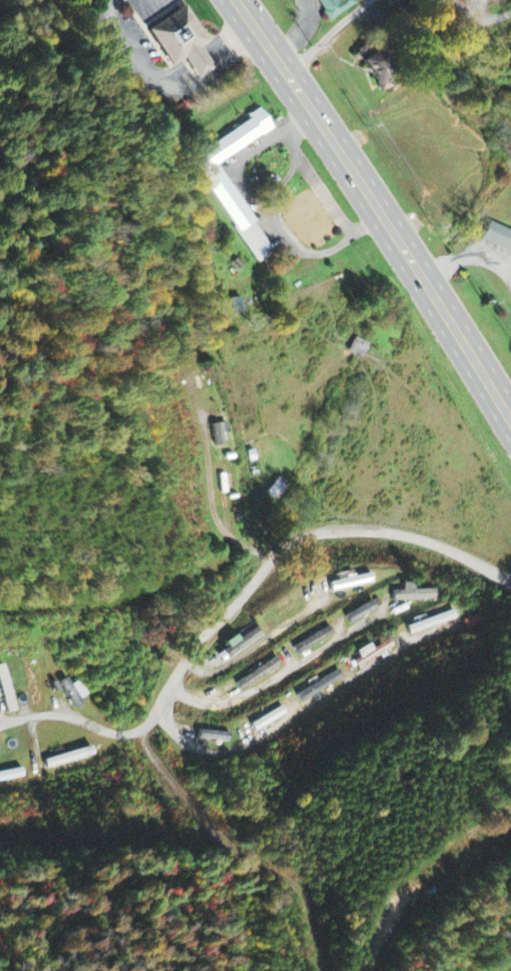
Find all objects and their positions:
building: (334, 8)
road: (481, 17)
road: (329, 36)
building: (183, 42)
building: (378, 69)
road: (377, 207)
building: (236, 209)
building: (309, 220)
building: (498, 239)
building: (233, 307)
building: (220, 435)
road: (210, 490)
building: (351, 584)
building: (412, 595)
building: (361, 614)
building: (314, 642)
building: (239, 645)
building: (373, 654)
road: (188, 659)
building: (259, 676)
road: (278, 677)
building: (32, 683)
building: (321, 687)
building: (6, 692)
building: (74, 694)
road: (79, 719)
building: (269, 720)
road: (279, 725)
building: (214, 738)
building: (69, 759)
building: (11, 776)
road: (109, 837)

